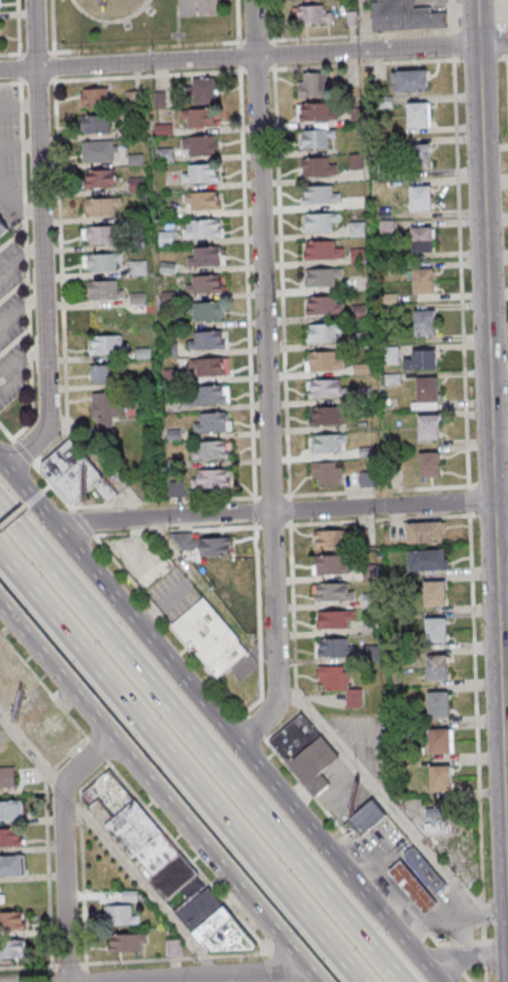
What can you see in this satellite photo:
building: (305, 0)
building: (313, 15)
building: (405, 16)
park: (142, 22)
road: (362, 25)
road: (253, 57)
building: (410, 82)
building: (313, 84)
building: (204, 91)
building: (97, 97)
building: (133, 98)
road: (18, 105)
building: (316, 112)
building: (417, 115)
building: (358, 116)
building: (199, 119)
building: (98, 124)
building: (317, 139)
road: (18, 145)
building: (200, 147)
building: (99, 152)
building: (165, 156)
building: (420, 156)
building: (135, 159)
building: (355, 162)
building: (317, 168)
building: (201, 174)
building: (100, 179)
building: (320, 196)
building: (421, 197)
building: (202, 201)
building: (102, 207)
road: (16, 211)
building: (319, 223)
building: (1, 227)
building: (203, 229)
building: (357, 230)
building: (100, 235)
building: (422, 239)
road: (40, 243)
building: (322, 251)
building: (207, 257)
road: (19, 258)
building: (102, 263)
building: (138, 268)
building: (321, 278)
building: (423, 281)
building: (204, 284)
building: (105, 290)
road: (19, 307)
building: (323, 307)
building: (205, 312)
building: (425, 322)
building: (324, 334)
building: (207, 341)
building: (107, 346)
building: (390, 356)
building: (422, 360)
road: (20, 361)
building: (323, 362)
building: (208, 368)
building: (361, 370)
building: (106, 373)
road: (265, 379)
building: (324, 390)
building: (427, 392)
building: (207, 396)
building: (104, 413)
building: (327, 417)
building: (212, 424)
building: (428, 427)
building: (326, 445)
building: (211, 451)
building: (430, 464)
road: (3, 465)
road: (491, 467)
building: (74, 475)
building: (326, 476)
building: (211, 480)
road: (19, 484)
road: (467, 491)
road: (40, 492)
road: (29, 502)
road: (280, 511)
road: (13, 515)
building: (425, 533)
building: (331, 539)
building: (202, 546)
building: (427, 560)
building: (330, 564)
building: (155, 573)
building: (333, 592)
building: (435, 593)
building: (335, 619)
building: (436, 630)
building: (210, 639)
building: (336, 647)
building: (437, 667)
building: (340, 684)
building: (438, 704)
road: (235, 741)
building: (441, 741)
road: (200, 747)
building: (305, 754)
road: (31, 756)
road: (179, 776)
building: (5, 777)
building: (440, 779)
road: (159, 793)
building: (105, 795)
road: (390, 806)
building: (9, 809)
road: (145, 809)
building: (434, 814)
building: (364, 819)
building: (130, 828)
building: (9, 837)
road: (63, 849)
building: (154, 852)
building: (9, 864)
building: (422, 869)
road: (363, 872)
building: (170, 876)
road: (392, 885)
road: (142, 886)
building: (410, 886)
building: (189, 887)
road: (390, 903)
building: (195, 909)
building: (118, 915)
building: (10, 921)
building: (210, 924)
road: (413, 930)
road: (463, 931)
building: (227, 939)
building: (125, 942)
building: (172, 947)
building: (12, 949)
road: (463, 958)
road: (297, 972)
road: (209, 976)

